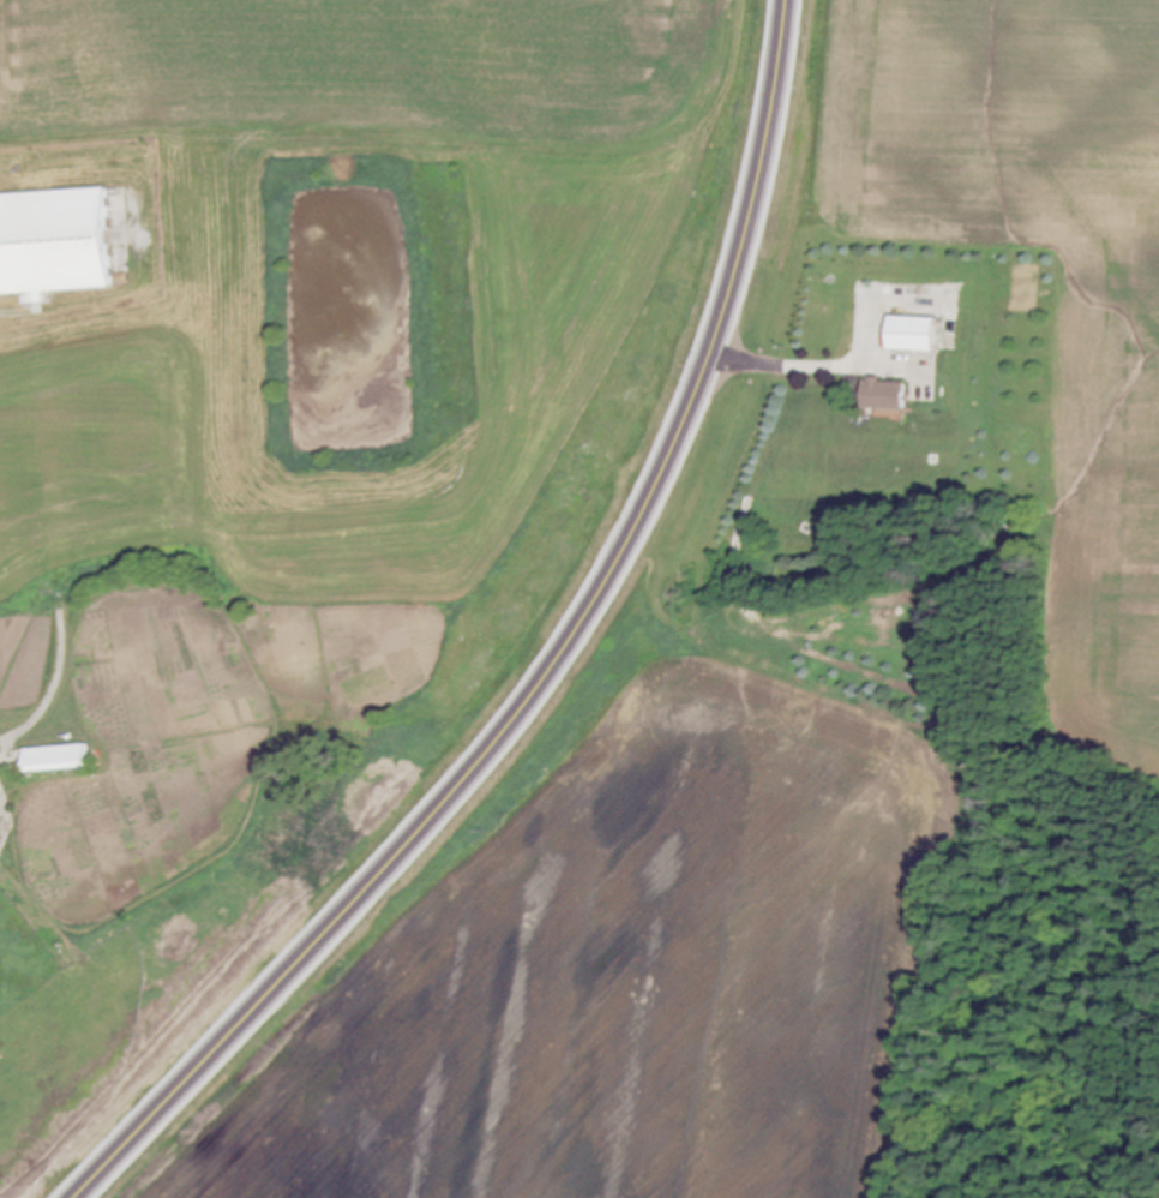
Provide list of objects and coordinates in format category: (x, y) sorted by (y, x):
building: (55, 245)
building: (918, 335)
road: (812, 366)
building: (888, 396)
road: (547, 665)
building: (58, 760)

